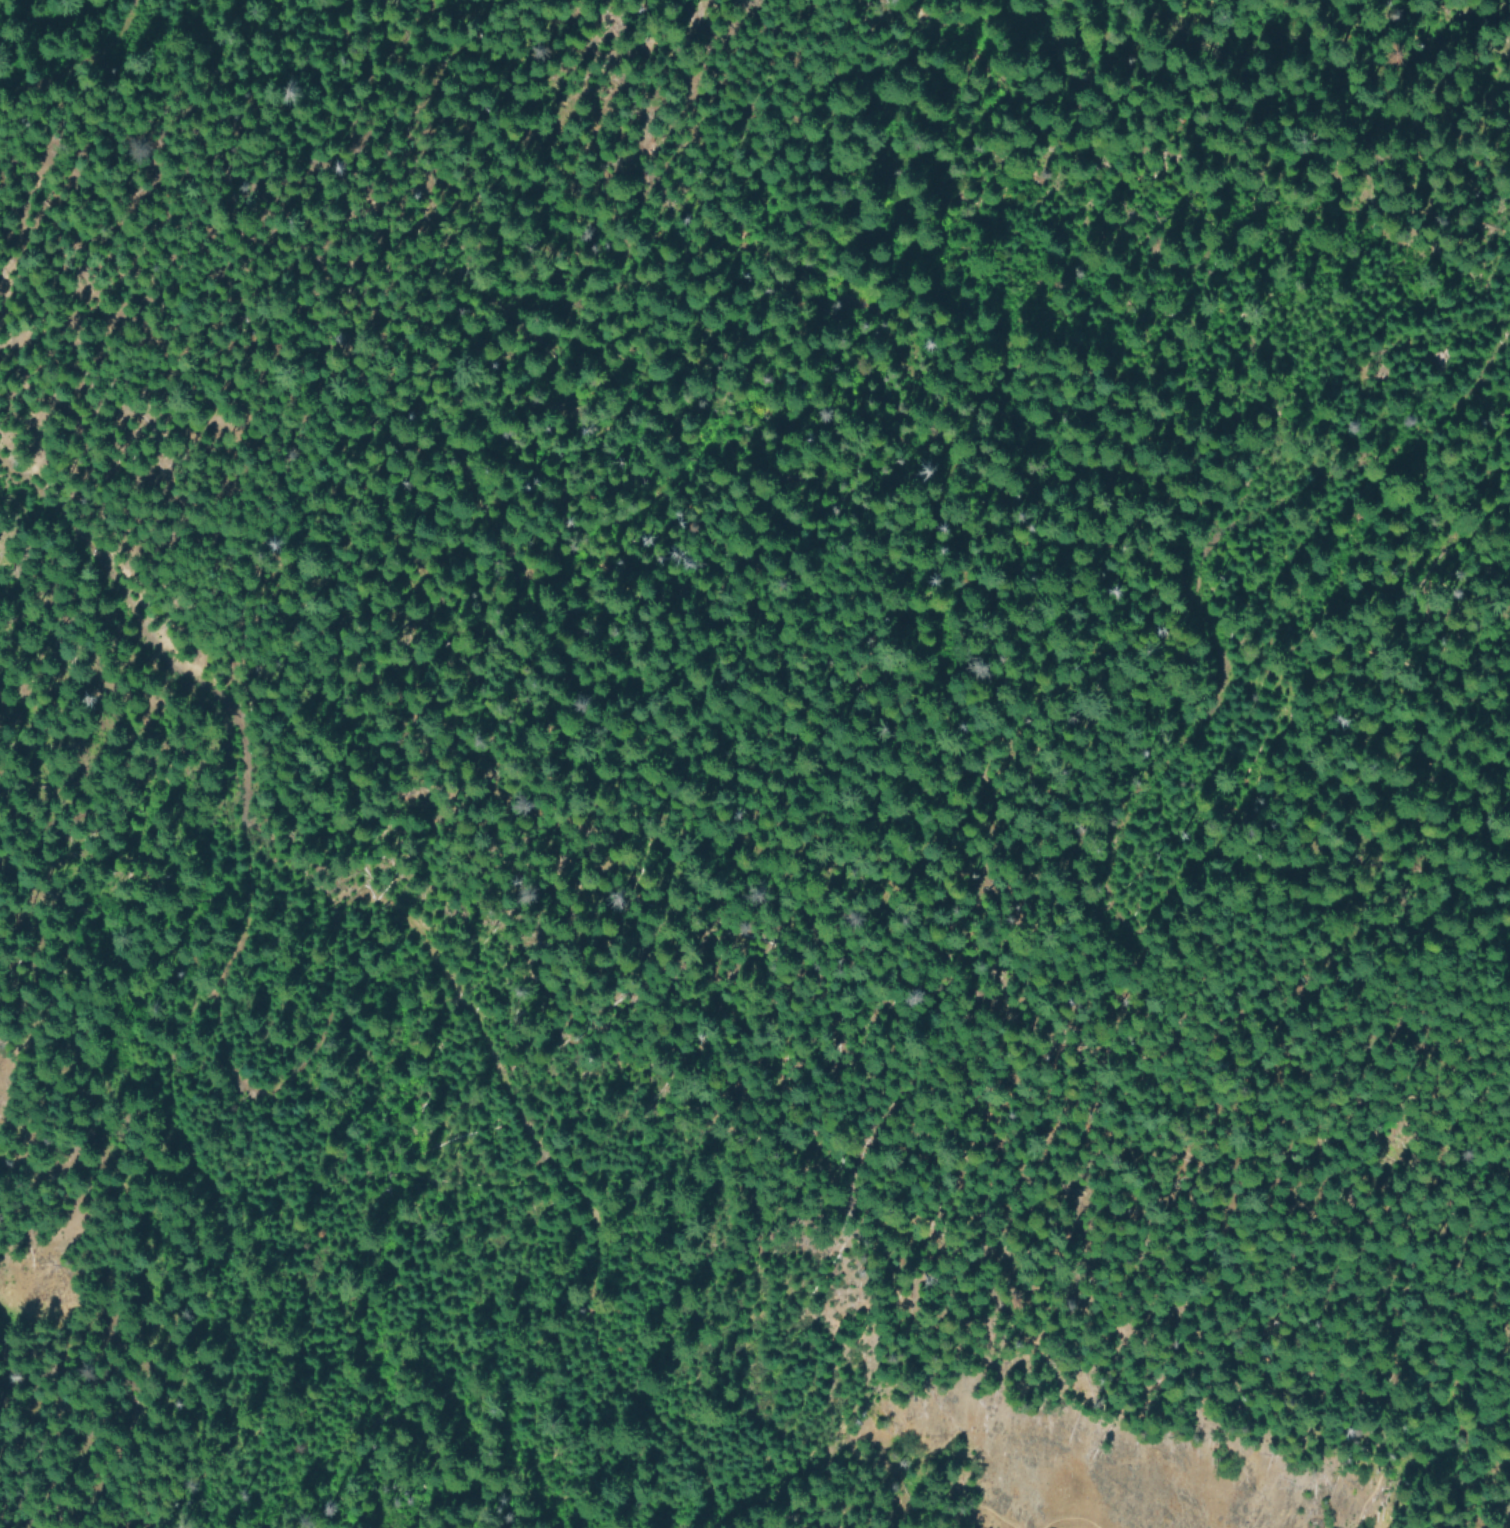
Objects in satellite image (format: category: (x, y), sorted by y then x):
road: (25, 1421)
road: (1425, 1454)
road: (985, 1516)

